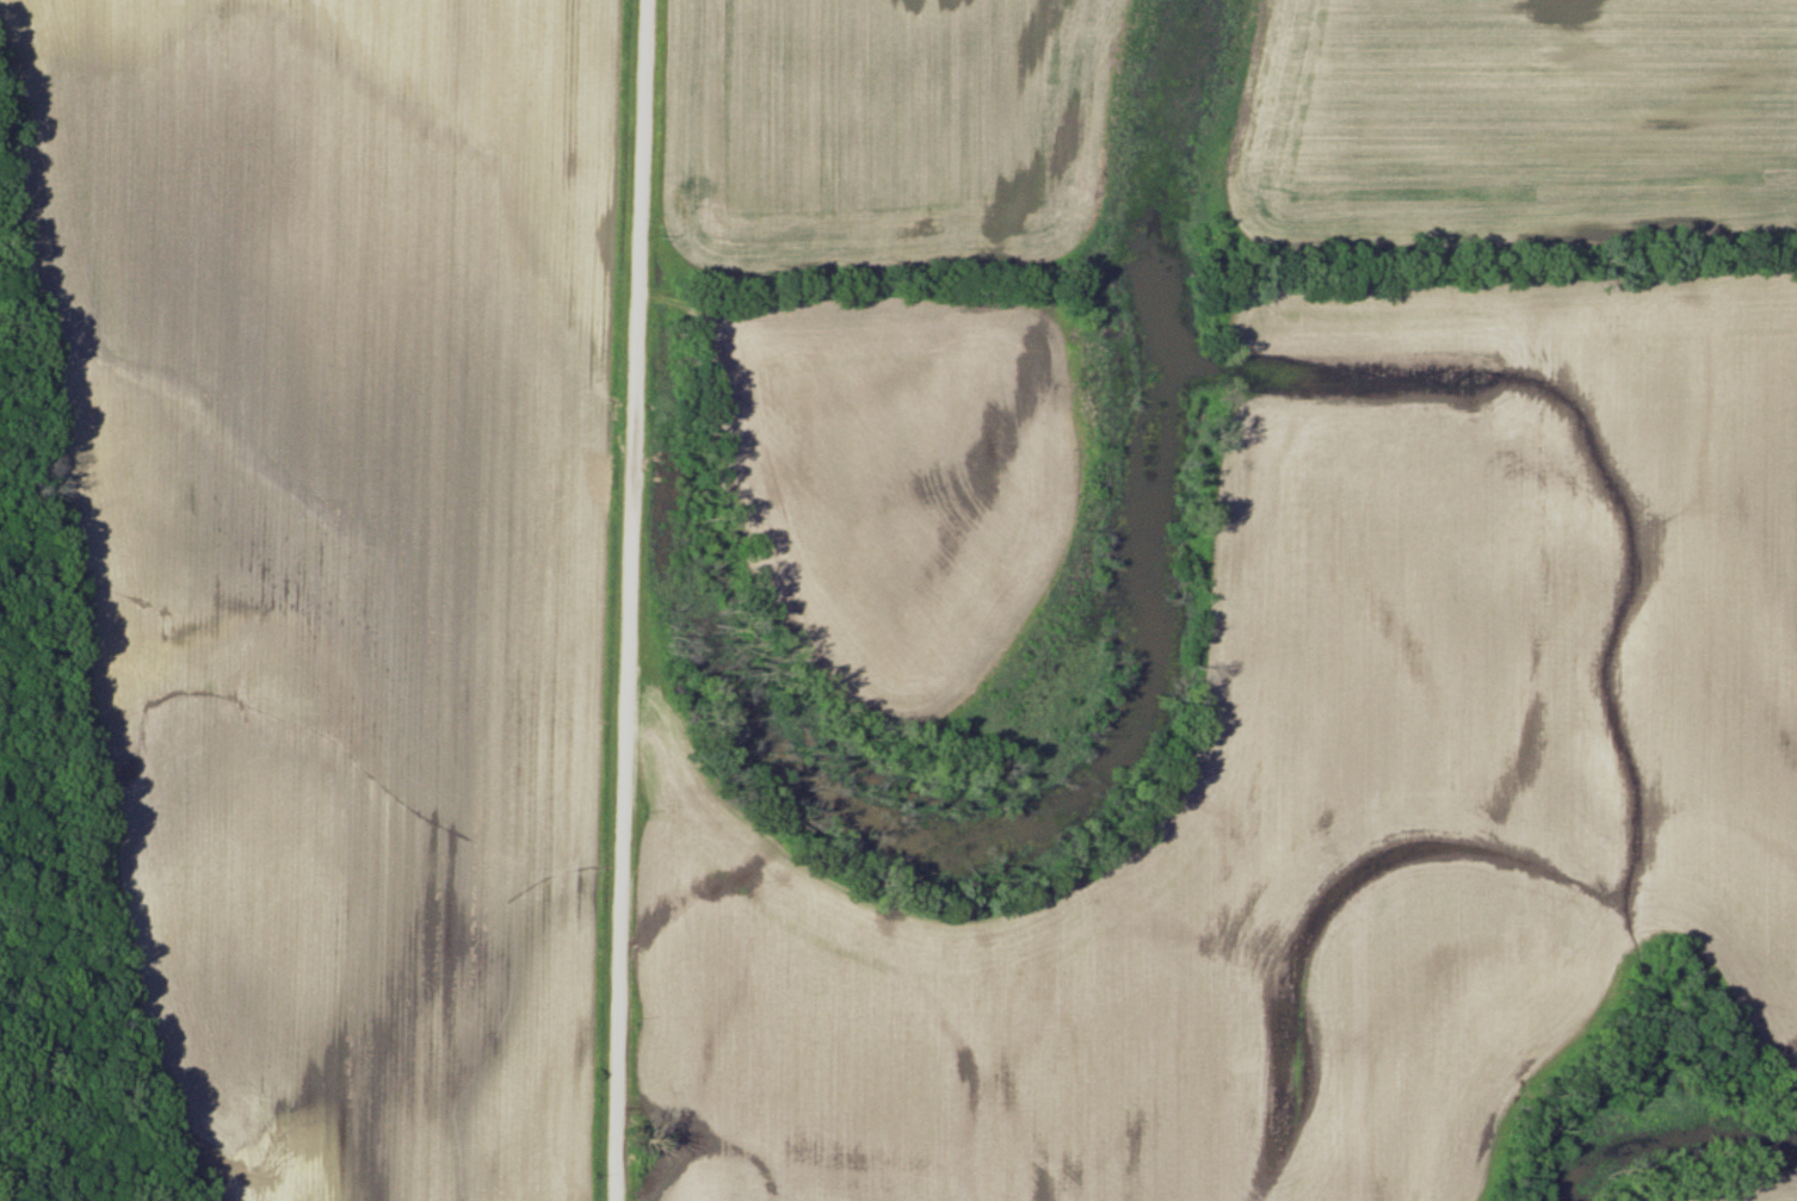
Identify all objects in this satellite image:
road: (631, 600)

